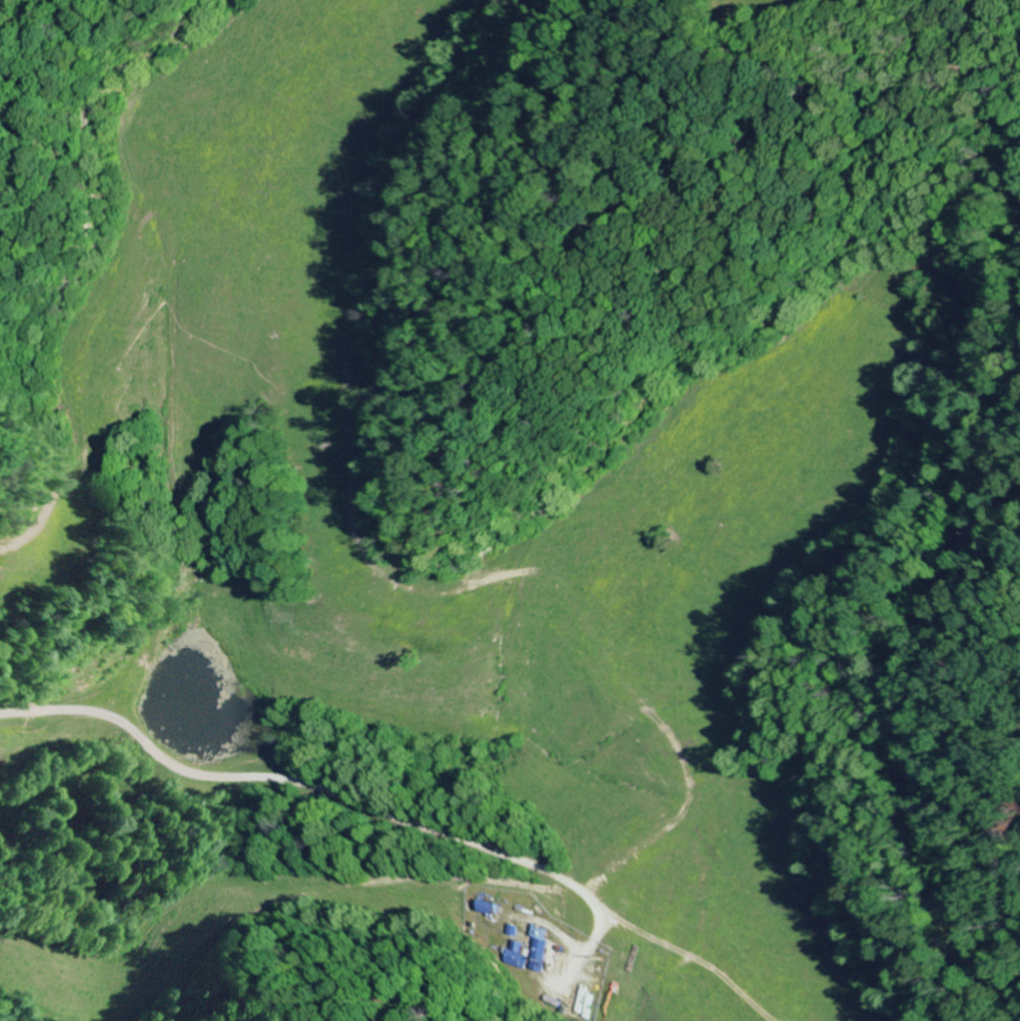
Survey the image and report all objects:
building: (489, 907)
building: (539, 948)

